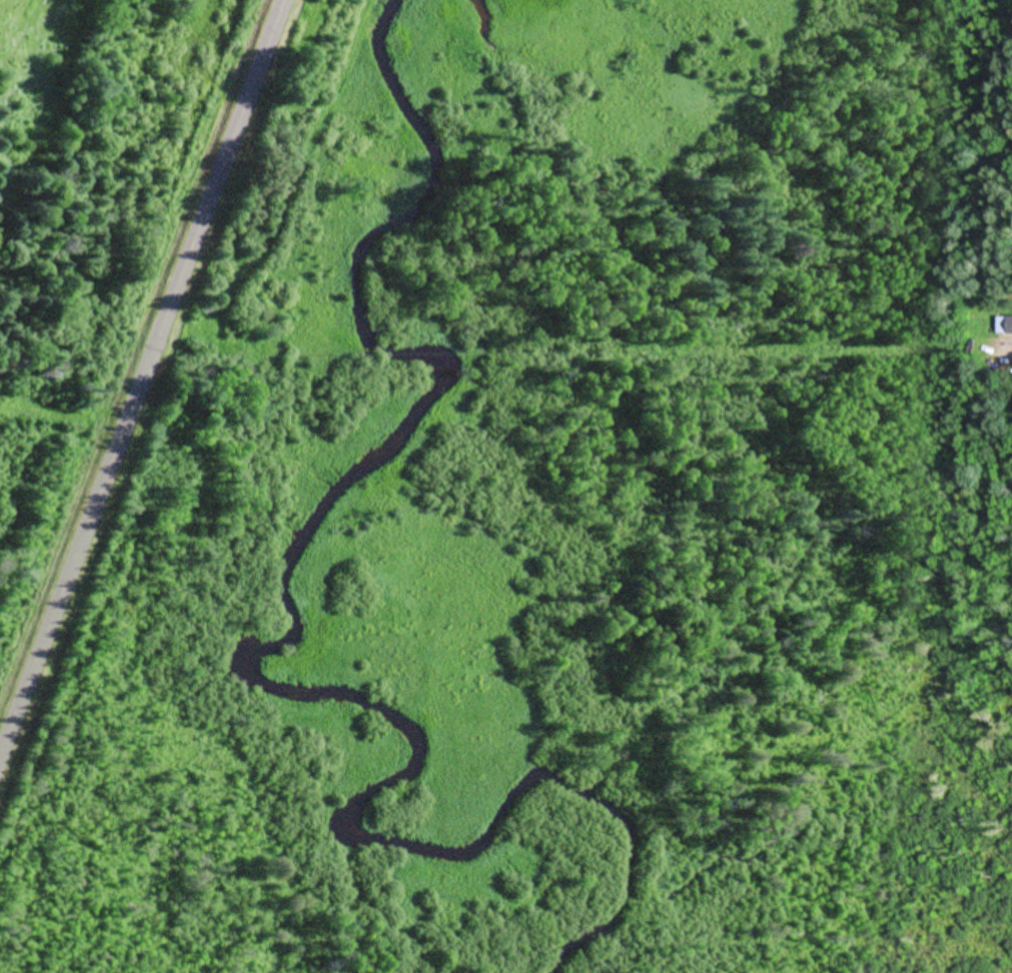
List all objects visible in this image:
building: (1006, 324)
road: (141, 376)

